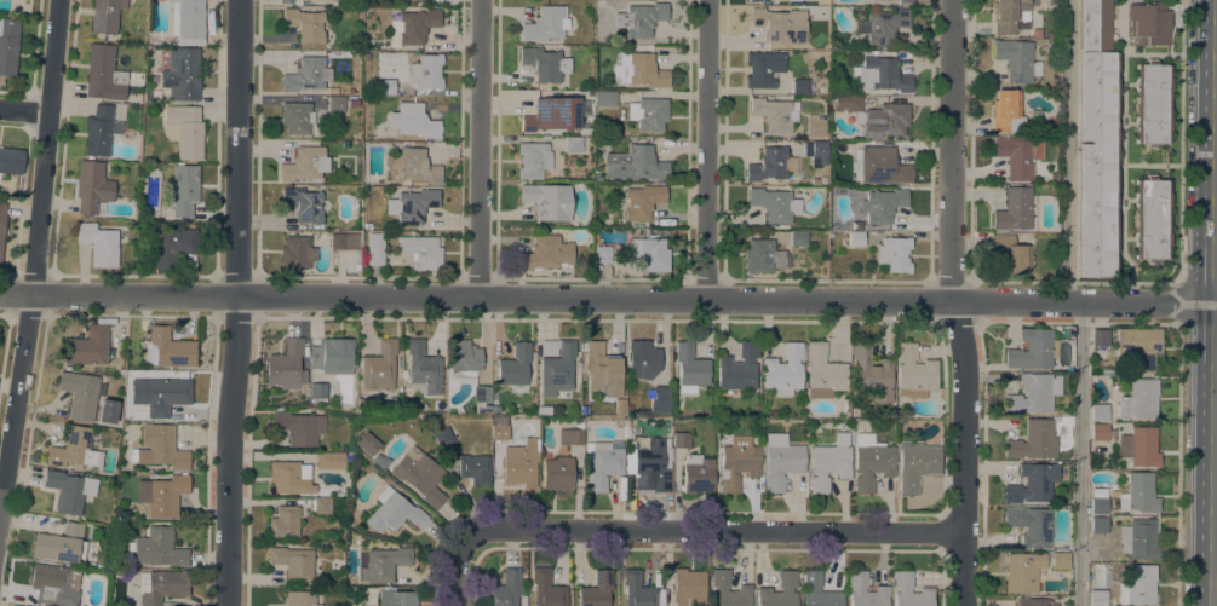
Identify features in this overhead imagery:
building: (757, 0)
building: (793, 0)
building: (873, 0)
building: (906, 1)
building: (105, 16)
building: (1010, 16)
building: (641, 19)
building: (186, 21)
building: (1148, 23)
building: (305, 24)
building: (545, 24)
building: (780, 24)
building: (882, 25)
building: (412, 27)
building: (375, 44)
building: (367, 45)
building: (7, 46)
building: (1016, 60)
building: (544, 63)
building: (763, 68)
building: (641, 70)
building: (182, 71)
building: (426, 73)
building: (103, 74)
building: (306, 75)
building: (880, 75)
building: (386, 86)
building: (800, 86)
building: (145, 93)
building: (605, 99)
building: (133, 102)
building: (335, 103)
building: (352, 103)
building: (1152, 103)
building: (157, 108)
building: (1006, 111)
road: (27, 114)
building: (552, 114)
building: (648, 114)
building: (774, 114)
building: (877, 116)
building: (297, 117)
building: (412, 120)
building: (815, 126)
building: (99, 129)
building: (184, 129)
building: (1096, 140)
road: (1179, 142)
building: (345, 144)
building: (573, 144)
road: (475, 149)
road: (706, 150)
road: (1068, 151)
building: (816, 152)
building: (1017, 155)
building: (10, 160)
building: (533, 160)
building: (304, 163)
building: (635, 163)
building: (770, 163)
building: (414, 165)
building: (879, 166)
building: (597, 178)
building: (815, 181)
building: (92, 187)
building: (184, 189)
building: (547, 201)
building: (643, 201)
building: (303, 204)
building: (412, 204)
building: (774, 204)
building: (882, 204)
building: (1014, 209)
building: (1150, 218)
building: (1, 224)
building: (367, 226)
building: (798, 238)
building: (855, 238)
building: (337, 241)
building: (98, 243)
building: (170, 246)
building: (375, 248)
building: (420, 252)
building: (295, 253)
building: (546, 253)
building: (894, 253)
building: (1011, 253)
building: (603, 254)
building: (649, 254)
road: (35, 256)
building: (762, 256)
road: (1123, 282)
road: (117, 295)
road: (727, 300)
road: (235, 302)
road: (954, 302)
road: (1213, 302)
road: (1131, 322)
building: (1102, 337)
building: (87, 346)
building: (1139, 347)
building: (167, 348)
building: (1033, 348)
building: (332, 356)
building: (464, 358)
building: (643, 358)
building: (513, 365)
building: (556, 365)
building: (287, 367)
building: (379, 367)
building: (423, 368)
building: (689, 368)
building: (739, 368)
building: (602, 369)
building: (783, 370)
building: (1107, 370)
building: (823, 373)
building: (872, 373)
building: (914, 373)
building: (317, 392)
building: (481, 393)
building: (1033, 393)
building: (79, 394)
building: (160, 394)
building: (660, 399)
building: (1138, 399)
building: (392, 402)
building: (404, 405)
building: (493, 410)
building: (543, 410)
building: (770, 412)
building: (1100, 412)
building: (298, 427)
building: (499, 427)
building: (632, 431)
building: (1100, 432)
building: (570, 435)
building: (442, 437)
building: (681, 439)
building: (1033, 440)
building: (367, 443)
building: (1138, 446)
building: (73, 448)
building: (159, 448)
road: (1080, 455)
building: (329, 460)
building: (379, 460)
building: (737, 461)
building: (781, 461)
building: (871, 461)
building: (602, 462)
building: (829, 462)
building: (1093, 462)
building: (651, 463)
building: (518, 464)
building: (915, 464)
road: (1178, 464)
building: (475, 468)
building: (557, 473)
building: (696, 473)
building: (420, 474)
building: (291, 477)
building: (1032, 483)
road: (1, 486)
building: (69, 490)
building: (1138, 492)
building: (162, 494)
building: (1098, 501)
building: (322, 506)
building: (394, 510)
building: (285, 521)
building: (1098, 524)
building: (1031, 525)
road: (712, 530)
building: (1138, 539)
building: (61, 543)
building: (156, 548)
building: (1060, 560)
building: (293, 561)
building: (385, 562)
building: (1022, 571)
road: (457, 573)
building: (54, 584)
building: (161, 585)
building: (1137, 585)
building: (688, 587)
building: (503, 588)
building: (546, 589)
building: (597, 589)
building: (637, 589)
building: (880, 589)
building: (729, 590)
building: (817, 590)
building: (903, 590)
building: (779, 591)
building: (303, 598)
building: (397, 598)
building: (1097, 598)
building: (523, 600)
building: (1034, 601)
building: (25, 605)

